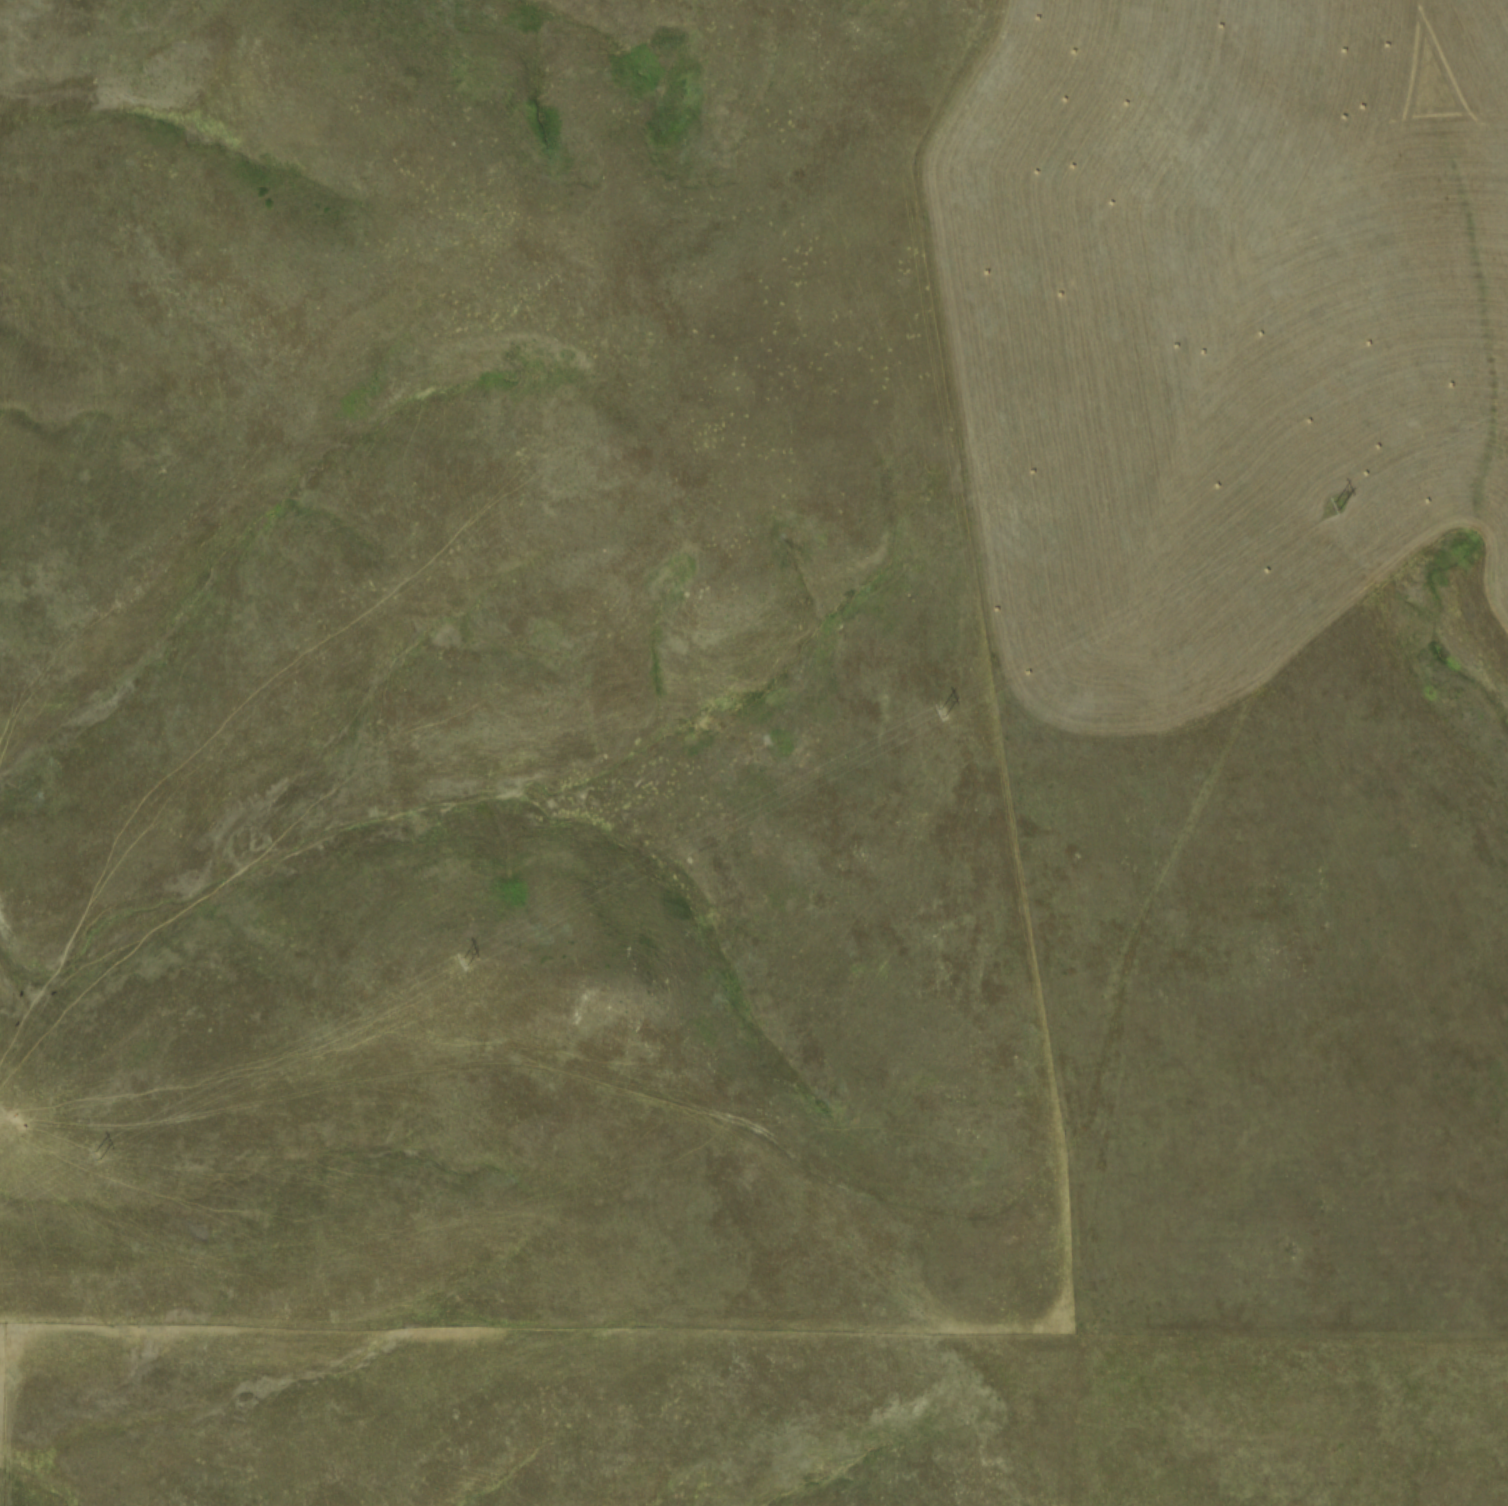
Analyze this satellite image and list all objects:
power tower: (1335, 505)
power tower: (937, 712)
road: (1221, 759)
power tower: (460, 962)
road: (531, 1060)
power tower: (94, 1153)
road: (1051, 1341)

